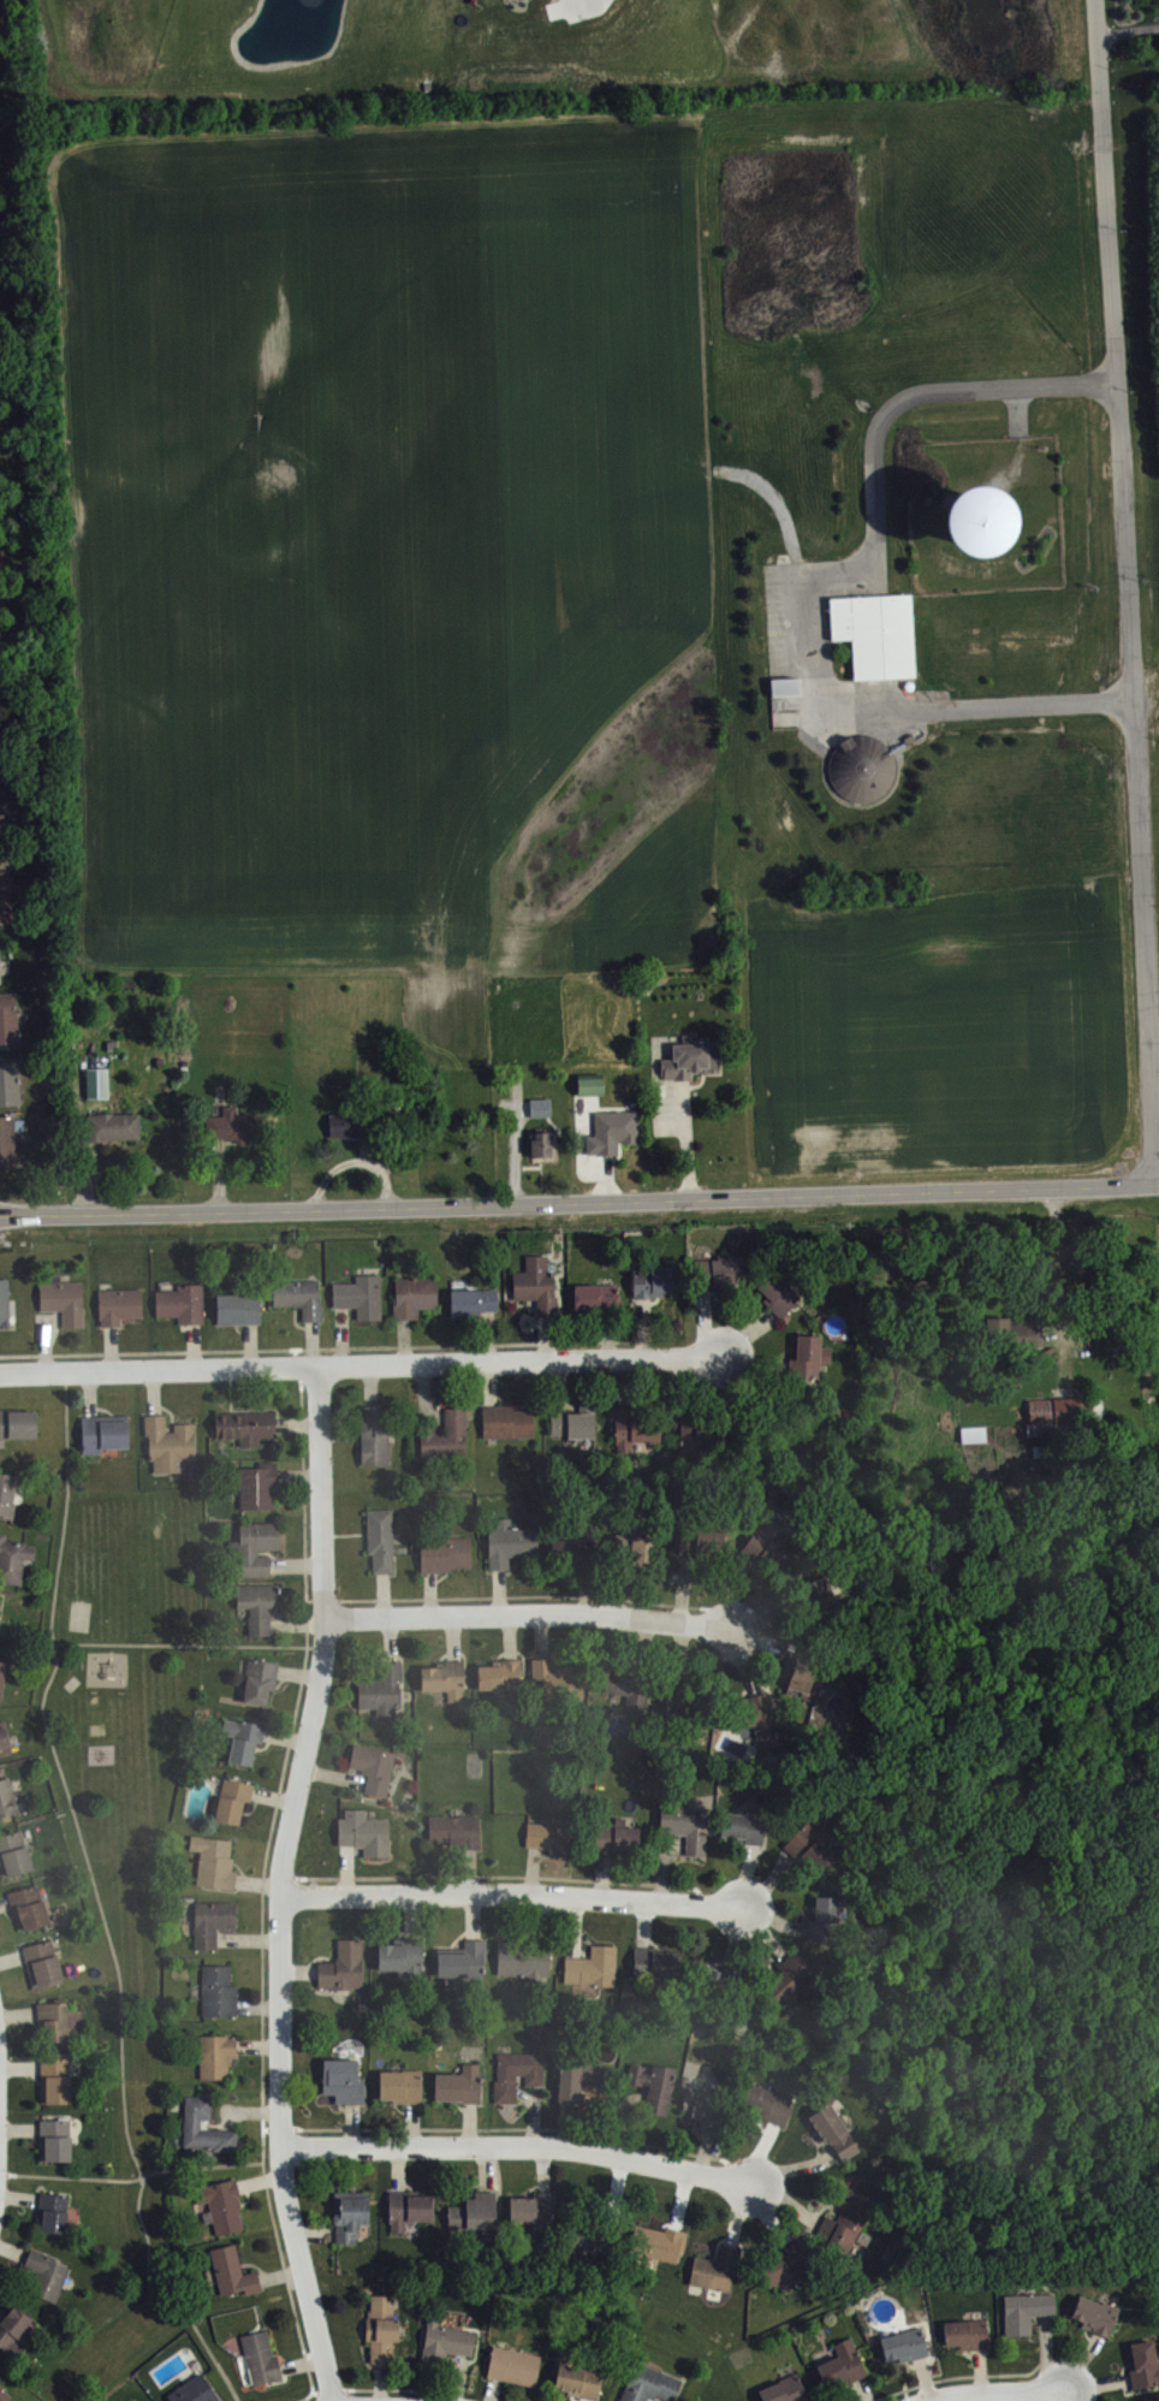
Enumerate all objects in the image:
road: (1128, 30)
road: (7, 231)
road: (1017, 410)
water tower: (975, 518)
building: (979, 522)
crop: (390, 550)
road: (815, 575)
road: (1127, 589)
building: (875, 632)
building: (789, 689)
building: (1, 700)
building: (861, 766)
building: (1, 835)
building: (5, 894)
building: (1, 964)
building: (7, 1016)
crop: (944, 1034)
building: (690, 1057)
building: (8, 1081)
building: (96, 1081)
building: (588, 1083)
building: (543, 1110)
building: (113, 1125)
building: (230, 1125)
building: (344, 1125)
building: (617, 1134)
road: (683, 1138)
building: (7, 1139)
building: (540, 1143)
road: (598, 1151)
road: (352, 1160)
road: (219, 1178)
road: (85, 1181)
road: (579, 1200)
road: (1054, 1259)
building: (718, 1271)
building: (653, 1281)
building: (535, 1287)
building: (777, 1296)
building: (359, 1297)
building: (412, 1297)
building: (596, 1297)
building: (297, 1299)
building: (471, 1300)
building: (63, 1303)
building: (4, 1304)
building: (180, 1305)
building: (118, 1306)
building: (237, 1310)
building: (1012, 1330)
road: (325, 1346)
building: (808, 1359)
road: (363, 1364)
building: (1063, 1413)
building: (18, 1422)
building: (505, 1423)
building: (573, 1424)
building: (244, 1428)
building: (634, 1431)
building: (971, 1431)
building: (101, 1435)
building: (373, 1436)
building: (444, 1437)
building: (700, 1439)
building: (168, 1446)
building: (1040, 1450)
building: (256, 1487)
building: (7, 1494)
building: (379, 1540)
building: (509, 1542)
building: (701, 1543)
building: (634, 1547)
building: (251, 1548)
building: (767, 1548)
building: (573, 1551)
building: (444, 1554)
building: (12, 1559)
road: (524, 1594)
building: (821, 1600)
building: (255, 1603)
park: (81, 1613)
road: (530, 1613)
road: (190, 1646)
building: (0, 1667)
building: (803, 1672)
building: (499, 1676)
building: (444, 1679)
building: (257, 1682)
building: (554, 1683)
building: (628, 1684)
building: (381, 1690)
building: (684, 1701)
building: (756, 1719)
building: (4, 1737)
building: (240, 1739)
building: (373, 1767)
building: (6, 1800)
building: (230, 1801)
building: (684, 1825)
building: (742, 1828)
building: (454, 1832)
building: (364, 1834)
building: (549, 1837)
building: (614, 1838)
park: (126, 1844)
building: (810, 1849)
building: (12, 1855)
building: (213, 1863)
road: (491, 1874)
road: (280, 1883)
road: (262, 1887)
road: (566, 1895)
road: (99, 1899)
building: (26, 1908)
building: (825, 1920)
building: (209, 1922)
building: (399, 1956)
building: (524, 1961)
building: (459, 1963)
building: (41, 1964)
building: (341, 1966)
building: (654, 1966)
building: (592, 1968)
building: (789, 1981)
building: (713, 1982)
building: (216, 1992)
building: (50, 2023)
building: (214, 2057)
building: (515, 2073)
building: (343, 2080)
building: (53, 2081)
building: (577, 2083)
building: (399, 2085)
building: (456, 2085)
building: (653, 2087)
building: (768, 2103)
building: (705, 2107)
building: (190, 2123)
road: (511, 2127)
building: (834, 2133)
building: (53, 2142)
road: (573, 2146)
road: (141, 2176)
building: (221, 2204)
building: (533, 2209)
building: (405, 2211)
building: (472, 2212)
building: (350, 2213)
building: (53, 2215)
building: (849, 2222)
building: (595, 2236)
building: (658, 2241)
building: (784, 2265)
building: (717, 2269)
building: (233, 2271)
building: (44, 2275)
building: (1024, 2312)
building: (1095, 2317)
building: (380, 2328)
building: (13, 2329)
building: (965, 2334)
building: (902, 2344)
building: (444, 2346)
building: (260, 2360)
building: (840, 2364)
building: (1143, 2366)
building: (513, 2367)
road: (1070, 2370)
road: (956, 2376)
building: (578, 2379)
building: (649, 2383)
road: (397, 2388)
building: (192, 2390)
building: (784, 2390)
building: (2, 2391)
road: (982, 2393)
road: (1029, 2396)
road: (1046, 2396)
road: (587, 2399)
road: (1083, 2400)

